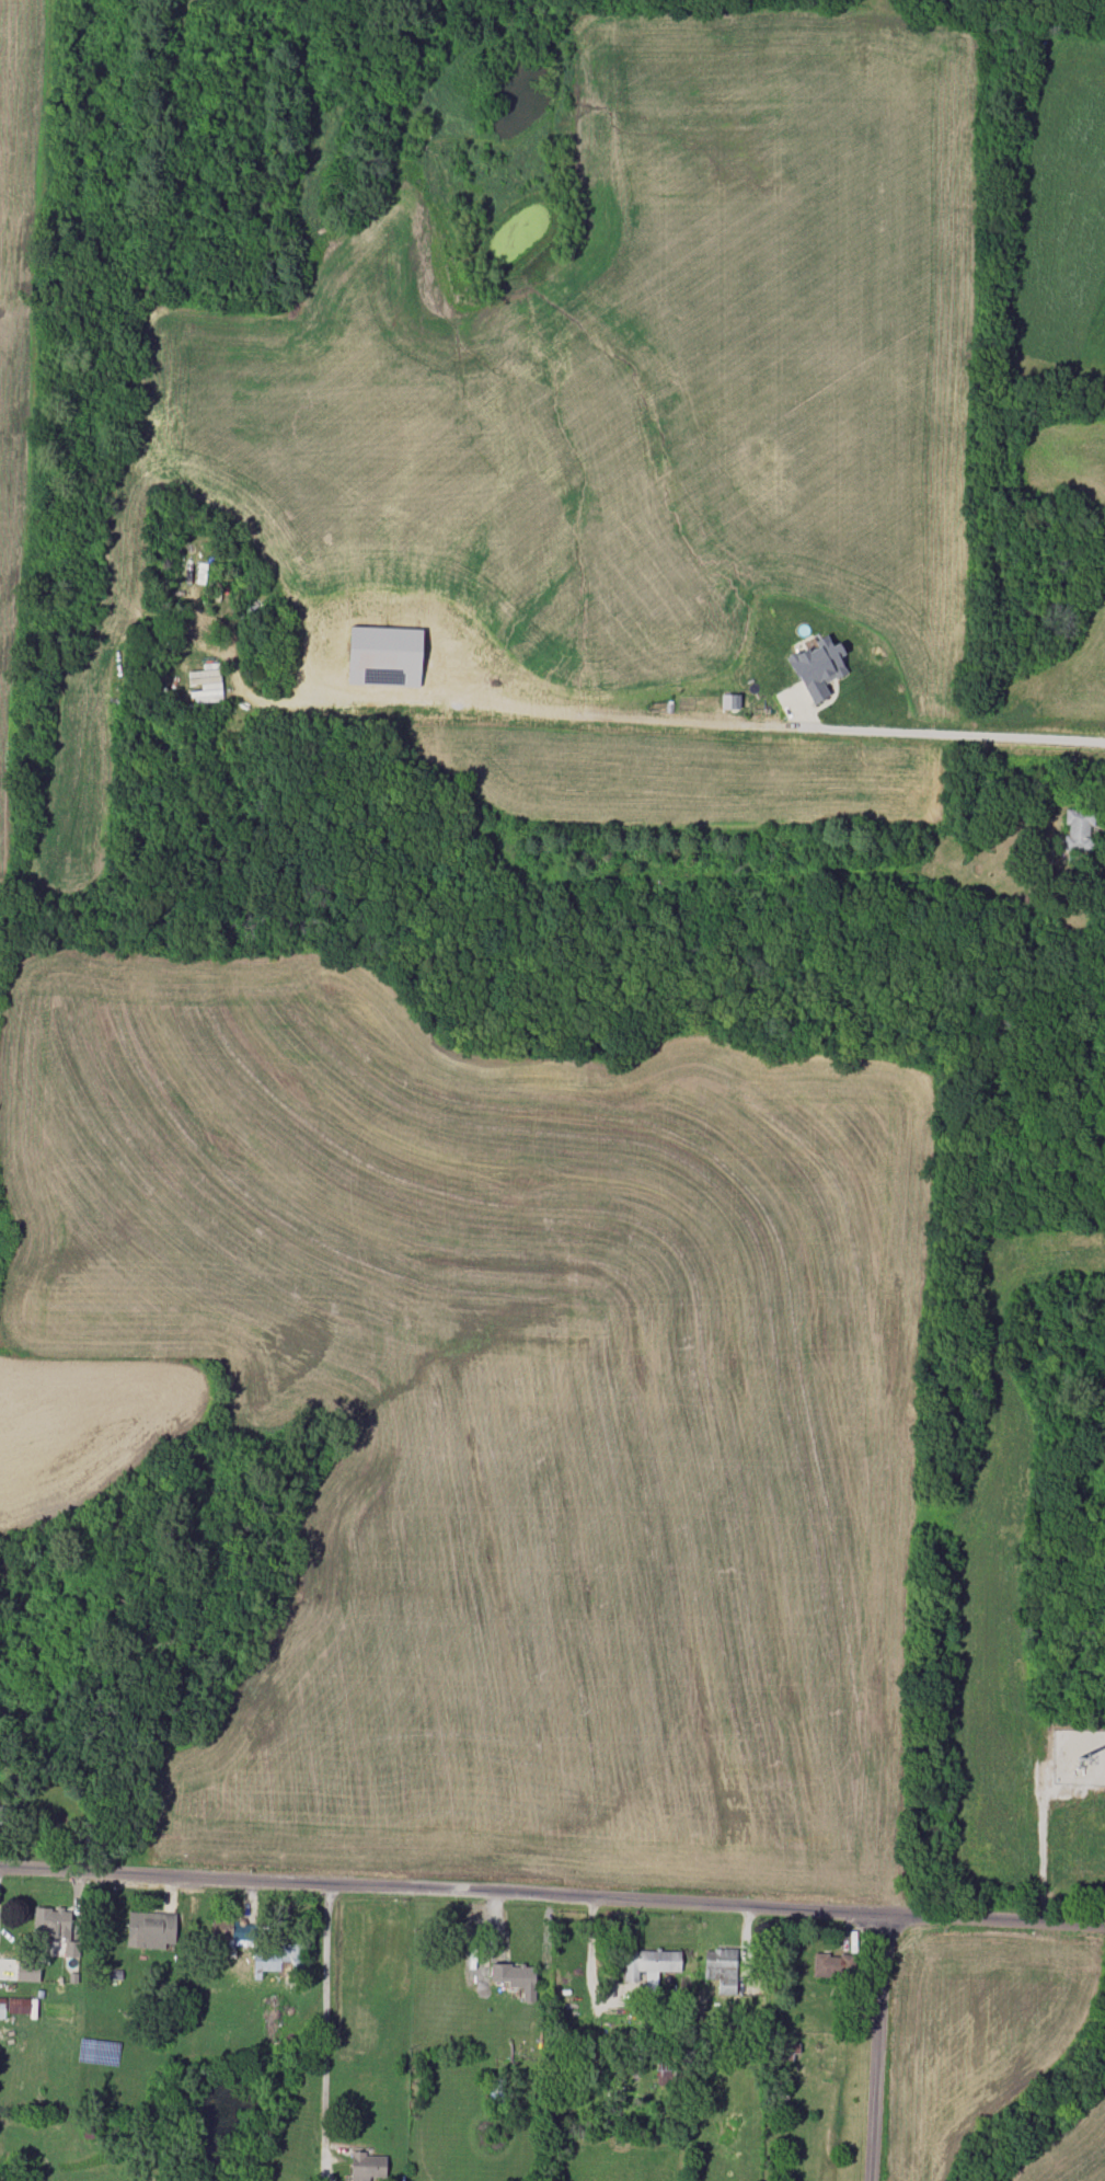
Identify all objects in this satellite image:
crop: (23, 334)
crop: (626, 387)
crop: (1067, 462)
building: (384, 656)
building: (817, 667)
crop: (1066, 680)
building: (729, 701)
road: (711, 719)
crop: (84, 762)
crop: (717, 788)
building: (1078, 829)
crop: (1, 1007)
crop: (515, 1410)
crop: (99, 1449)
crop: (1004, 1552)
building: (0, 1811)
crop: (1079, 1839)
road: (1045, 1848)
road: (552, 1893)
building: (51, 1921)
building: (151, 1929)
building: (232, 1931)
building: (277, 1959)
building: (648, 1964)
building: (832, 1965)
building: (721, 1968)
building: (27, 1971)
building: (516, 1977)
building: (19, 2005)
building: (2, 2008)
road: (324, 2012)
road: (874, 2045)
building: (367, 2166)

